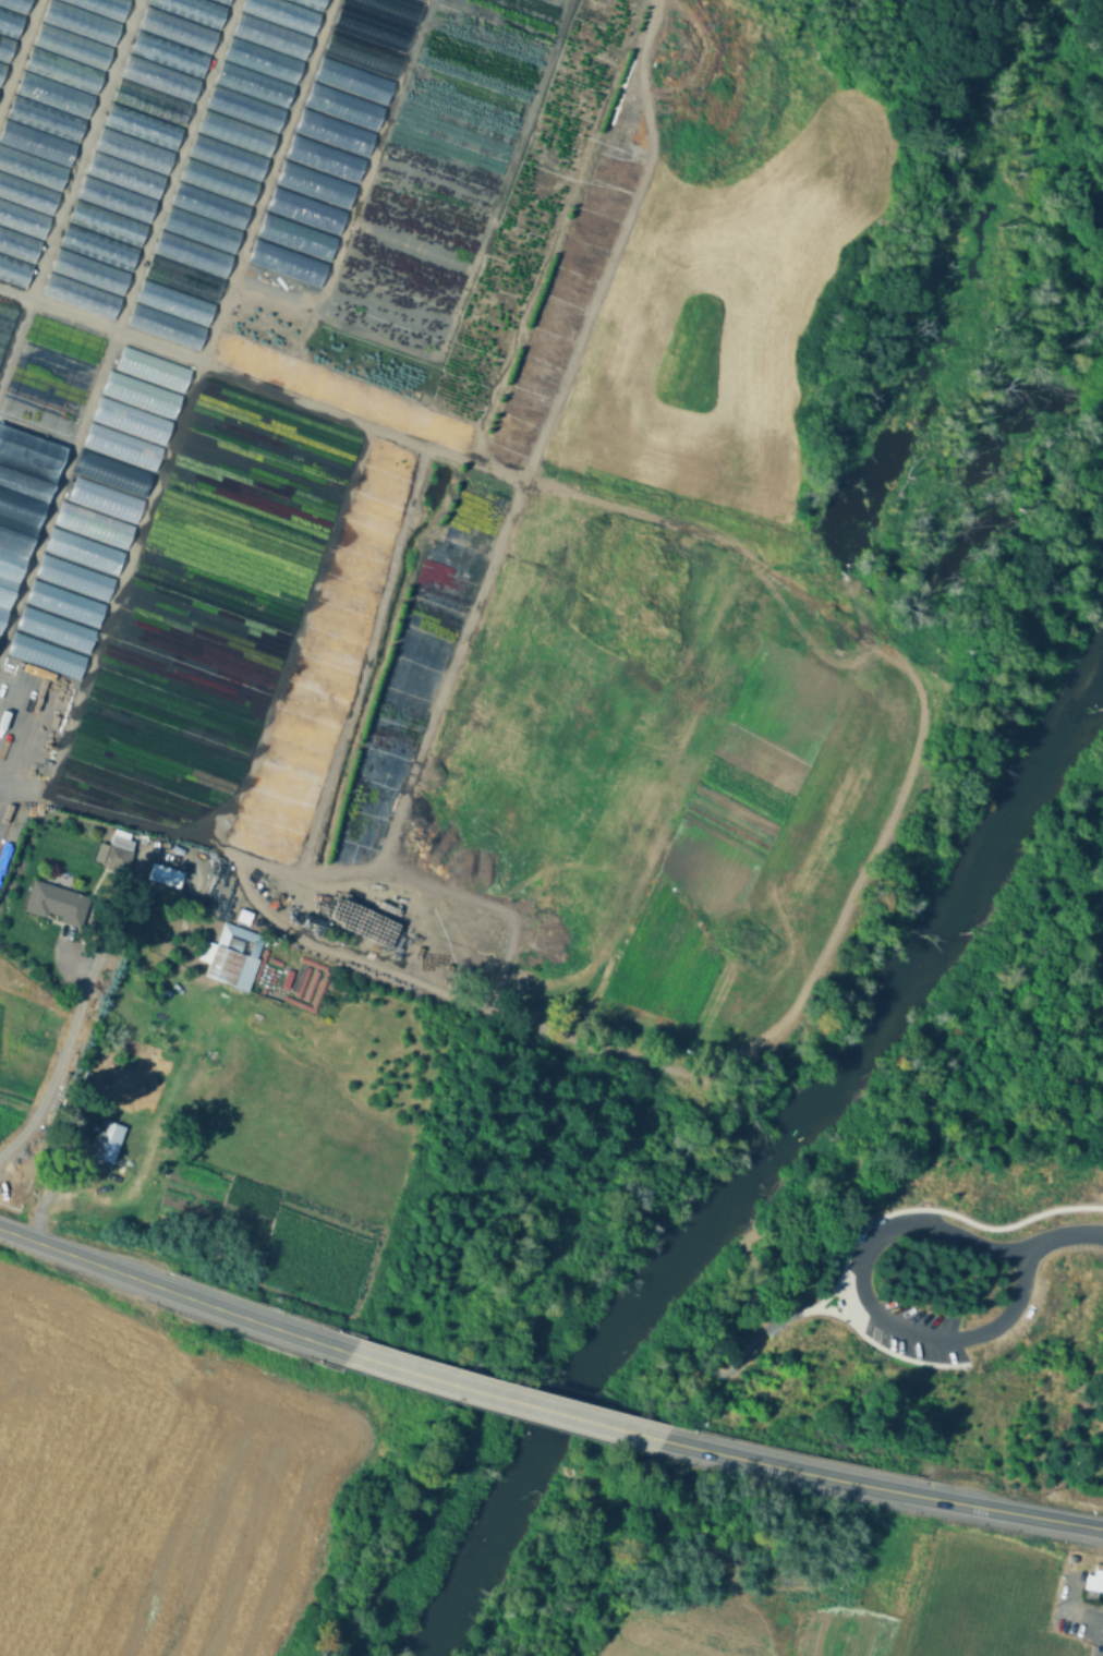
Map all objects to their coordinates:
building: (221, 2)
building: (310, 4)
building: (15, 5)
building: (102, 7)
building: (193, 11)
building: (282, 14)
building: (80, 22)
building: (10, 24)
building: (177, 31)
building: (271, 38)
building: (71, 47)
building: (5, 49)
road: (20, 55)
building: (168, 55)
building: (262, 62)
building: (1, 71)
building: (62, 71)
building: (159, 78)
building: (253, 86)
building: (52, 95)
building: (150, 104)
building: (243, 110)
building: (44, 119)
building: (141, 126)
building: (235, 135)
building: (36, 143)
road: (83, 150)
building: (132, 152)
building: (226, 158)
road: (174, 166)
building: (32, 169)
building: (123, 176)
building: (217, 182)
building: (27, 194)
building: (114, 201)
building: (208, 207)
building: (22, 220)
building: (106, 225)
building: (201, 232)
building: (17, 246)
building: (97, 247)
building: (192, 256)
building: (14, 273)
building: (88, 273)
building: (182, 279)
building: (81, 298)
building: (173, 304)
building: (166, 329)
road: (191, 400)
road: (538, 439)
building: (22, 505)
crop: (659, 569)
road: (820, 570)
road: (793, 587)
road: (293, 649)
road: (362, 661)
road: (87, 812)
building: (112, 856)
building: (169, 877)
building: (54, 904)
building: (243, 915)
road: (68, 964)
building: (225, 964)
road: (88, 982)
road: (489, 1001)
building: (108, 1148)
river: (757, 1149)
road: (926, 1209)
road: (1075, 1234)
road: (841, 1284)
parking lot: (1020, 1285)
road: (171, 1294)
road: (863, 1296)
road: (856, 1298)
park: (901, 1301)
building: (835, 1302)
road: (848, 1303)
road: (703, 1342)
road: (878, 1345)
building: (728, 1376)
crop: (88, 1397)
road: (500, 1397)
road: (878, 1488)
crop: (195, 1535)
building: (1092, 1580)
road: (1069, 1592)
building: (1087, 1594)
crop: (984, 1607)
road: (1083, 1621)
crop: (749, 1630)

